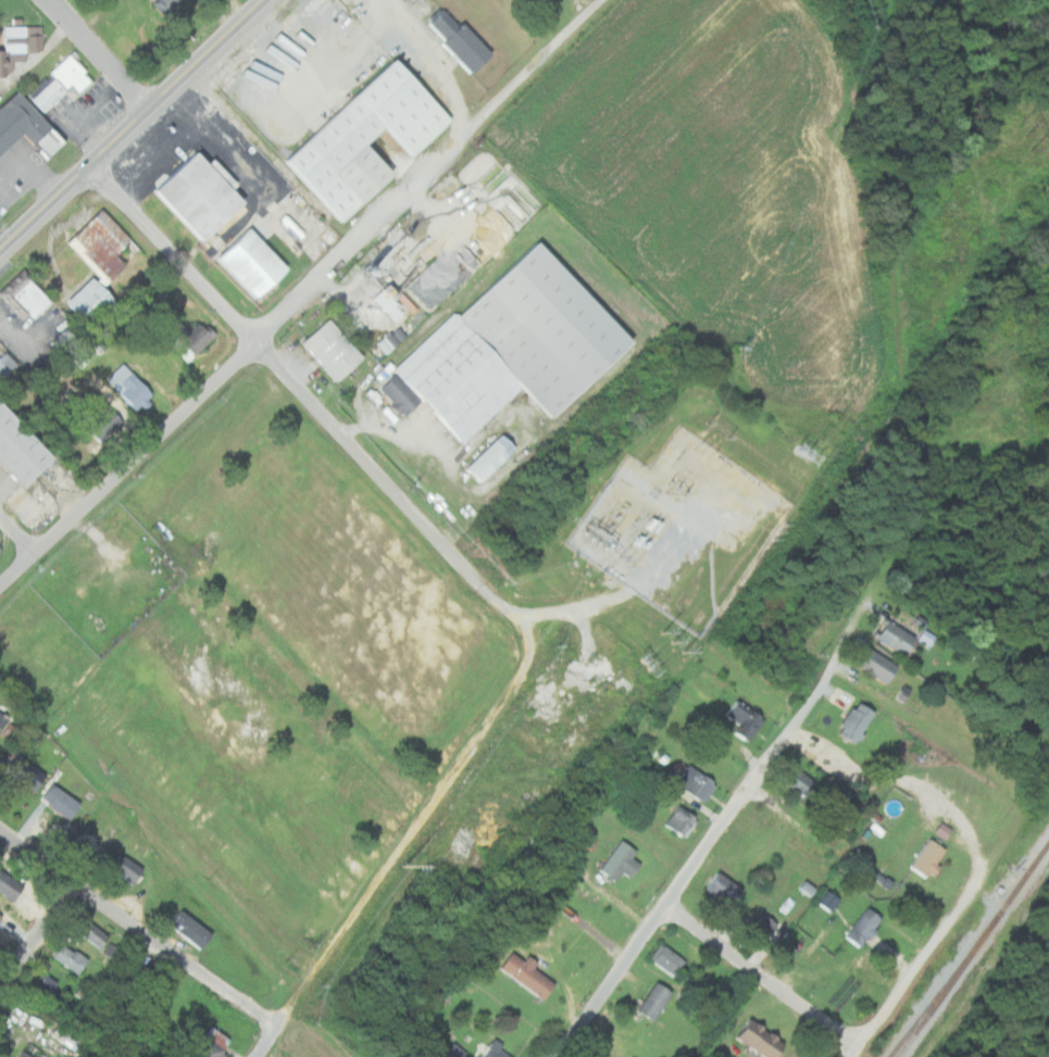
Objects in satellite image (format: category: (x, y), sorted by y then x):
building: (166, 4)
building: (26, 38)
building: (462, 43)
road: (99, 53)
road: (426, 59)
building: (2, 64)
building: (62, 83)
road: (129, 123)
building: (27, 127)
power tower: (1028, 134)
building: (369, 140)
building: (201, 194)
building: (253, 262)
building: (101, 263)
building: (28, 293)
road: (301, 294)
building: (389, 303)
road: (235, 315)
building: (545, 329)
building: (190, 338)
building: (335, 348)
building: (7, 364)
building: (458, 378)
building: (129, 385)
building: (398, 397)
building: (105, 421)
building: (20, 444)
building: (490, 457)
power tower: (802, 468)
power tower: (767, 515)
power substation: (682, 527)
road: (17, 532)
building: (1, 549)
road: (472, 577)
building: (898, 636)
power tower: (675, 640)
building: (879, 664)
road: (504, 712)
building: (745, 716)
building: (1, 719)
building: (858, 720)
building: (22, 771)
building: (800, 780)
building: (698, 783)
building: (62, 801)
road: (723, 819)
building: (682, 820)
building: (929, 856)
railway: (1038, 857)
building: (622, 859)
power tower: (404, 865)
building: (129, 867)
building: (725, 888)
railway: (1013, 892)
road: (374, 895)
building: (824, 899)
building: (1, 921)
building: (865, 927)
road: (138, 929)
building: (192, 929)
building: (91, 931)
building: (762, 931)
road: (35, 936)
road: (944, 938)
building: (112, 953)
building: (71, 956)
building: (670, 959)
building: (529, 974)
road: (764, 978)
building: (137, 979)
road: (988, 979)
building: (40, 983)
railway: (948, 983)
railway: (945, 984)
building: (658, 999)
building: (70, 1036)
building: (763, 1037)
building: (211, 1044)
building: (492, 1049)
building: (453, 1052)
building: (25, 1054)

